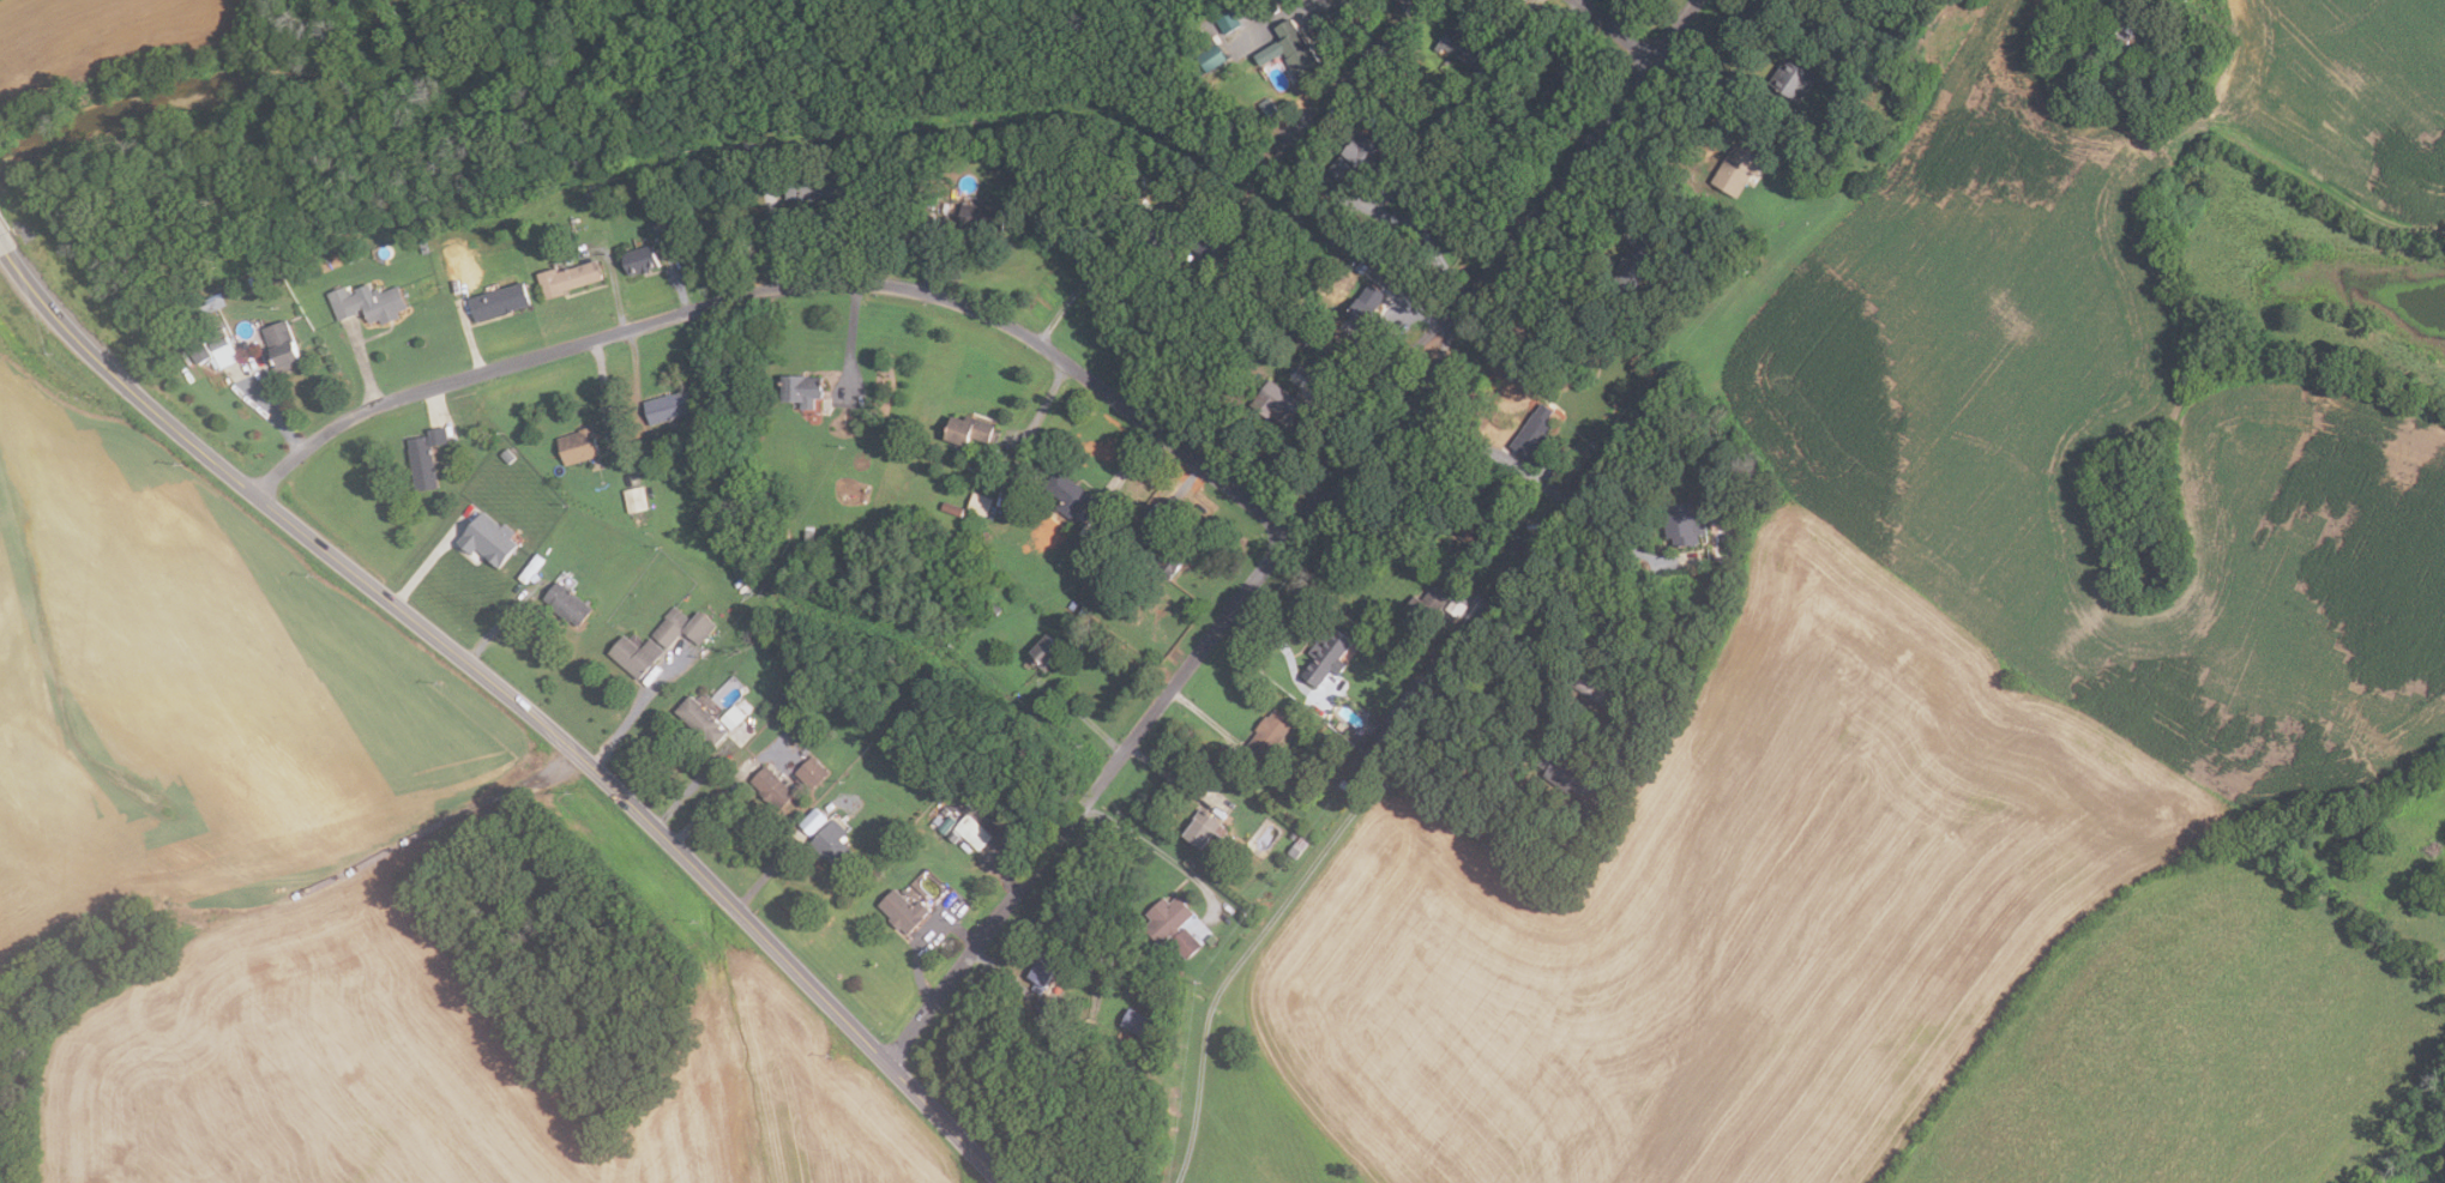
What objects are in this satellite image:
building: (1272, 6)
building: (1243, 24)
road: (1614, 28)
building: (1892, 29)
building: (1505, 30)
building: (2130, 30)
building: (1200, 41)
building: (1457, 46)
building: (1290, 50)
road: (1366, 50)
building: (1525, 56)
building: (1208, 59)
building: (1473, 74)
building: (1868, 76)
building: (1559, 77)
building: (1790, 79)
road: (1698, 91)
road: (1812, 116)
building: (1381, 134)
building: (747, 137)
building: (747, 146)
building: (1362, 155)
building: (1302, 162)
building: (1339, 169)
building: (1736, 169)
building: (814, 188)
road: (2325, 188)
building: (586, 197)
building: (932, 199)
building: (640, 200)
road: (1409, 200)
building: (980, 217)
building: (411, 223)
building: (654, 225)
building: (920, 229)
road: (773, 233)
building: (1208, 242)
building: (422, 247)
building: (1688, 249)
road: (934, 255)
building: (351, 256)
road: (1502, 256)
building: (638, 260)
building: (1634, 264)
building: (1361, 267)
road: (679, 273)
building: (566, 278)
road: (1094, 279)
road: (787, 285)
road: (615, 290)
building: (366, 302)
building: (496, 302)
building: (211, 303)
building: (1365, 303)
road: (1386, 322)
road: (471, 339)
road: (854, 342)
building: (219, 346)
building: (279, 346)
building: (195, 351)
road: (363, 363)
road: (634, 375)
building: (1300, 382)
building: (799, 390)
road: (604, 393)
road: (434, 403)
road: (1046, 404)
building: (1275, 404)
building: (667, 406)
road: (275, 411)
road: (1330, 414)
building: (966, 430)
building: (1532, 433)
building: (576, 446)
building: (1585, 452)
building: (506, 455)
building: (423, 458)
road: (1457, 465)
road: (1122, 469)
road: (1542, 488)
road: (1178, 493)
building: (1065, 494)
building: (634, 499)
building: (977, 503)
building: (951, 509)
building: (1682, 524)
building: (1469, 532)
building: (487, 538)
building: (807, 538)
road: (1386, 538)
building: (1156, 550)
building: (1528, 551)
road: (429, 559)
building: (565, 604)
building: (1423, 605)
building: (993, 606)
building: (1453, 606)
building: (1477, 621)
building: (681, 627)
road: (492, 633)
road: (1283, 652)
building: (1047, 654)
building: (1325, 654)
building: (633, 656)
building: (795, 670)
building: (1435, 672)
road: (1180, 678)
building: (1592, 688)
road: (508, 700)
building: (1407, 701)
road: (1203, 716)
building: (731, 717)
road: (1082, 717)
building: (699, 720)
road: (625, 725)
building: (1266, 737)
building: (784, 741)
building: (1378, 741)
building: (1637, 761)
building: (1561, 769)
building: (811, 772)
road: (1172, 779)
building: (1343, 784)
building: (770, 786)
road: (688, 790)
road: (710, 804)
building: (944, 811)
building: (937, 820)
building: (812, 821)
building: (946, 823)
building: (923, 828)
building: (1202, 829)
building: (971, 832)
building: (952, 835)
building: (832, 845)
building: (1297, 847)
road: (1157, 850)
road: (1315, 857)
road: (764, 876)
building: (901, 911)
building: (1170, 925)
road: (928, 940)
building: (1210, 940)
building: (1041, 972)
road: (1005, 977)
building: (1134, 1022)

